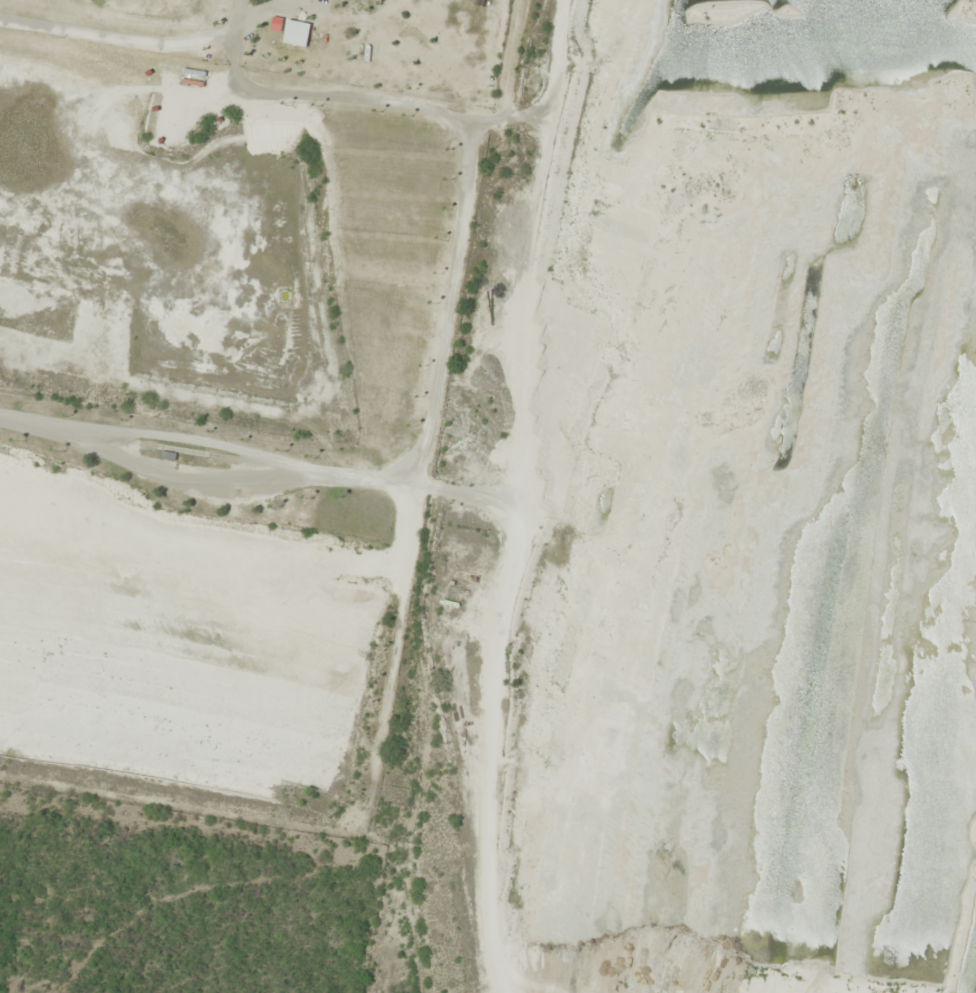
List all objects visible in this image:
building: (277, 24)
road: (275, 476)
road: (391, 661)

